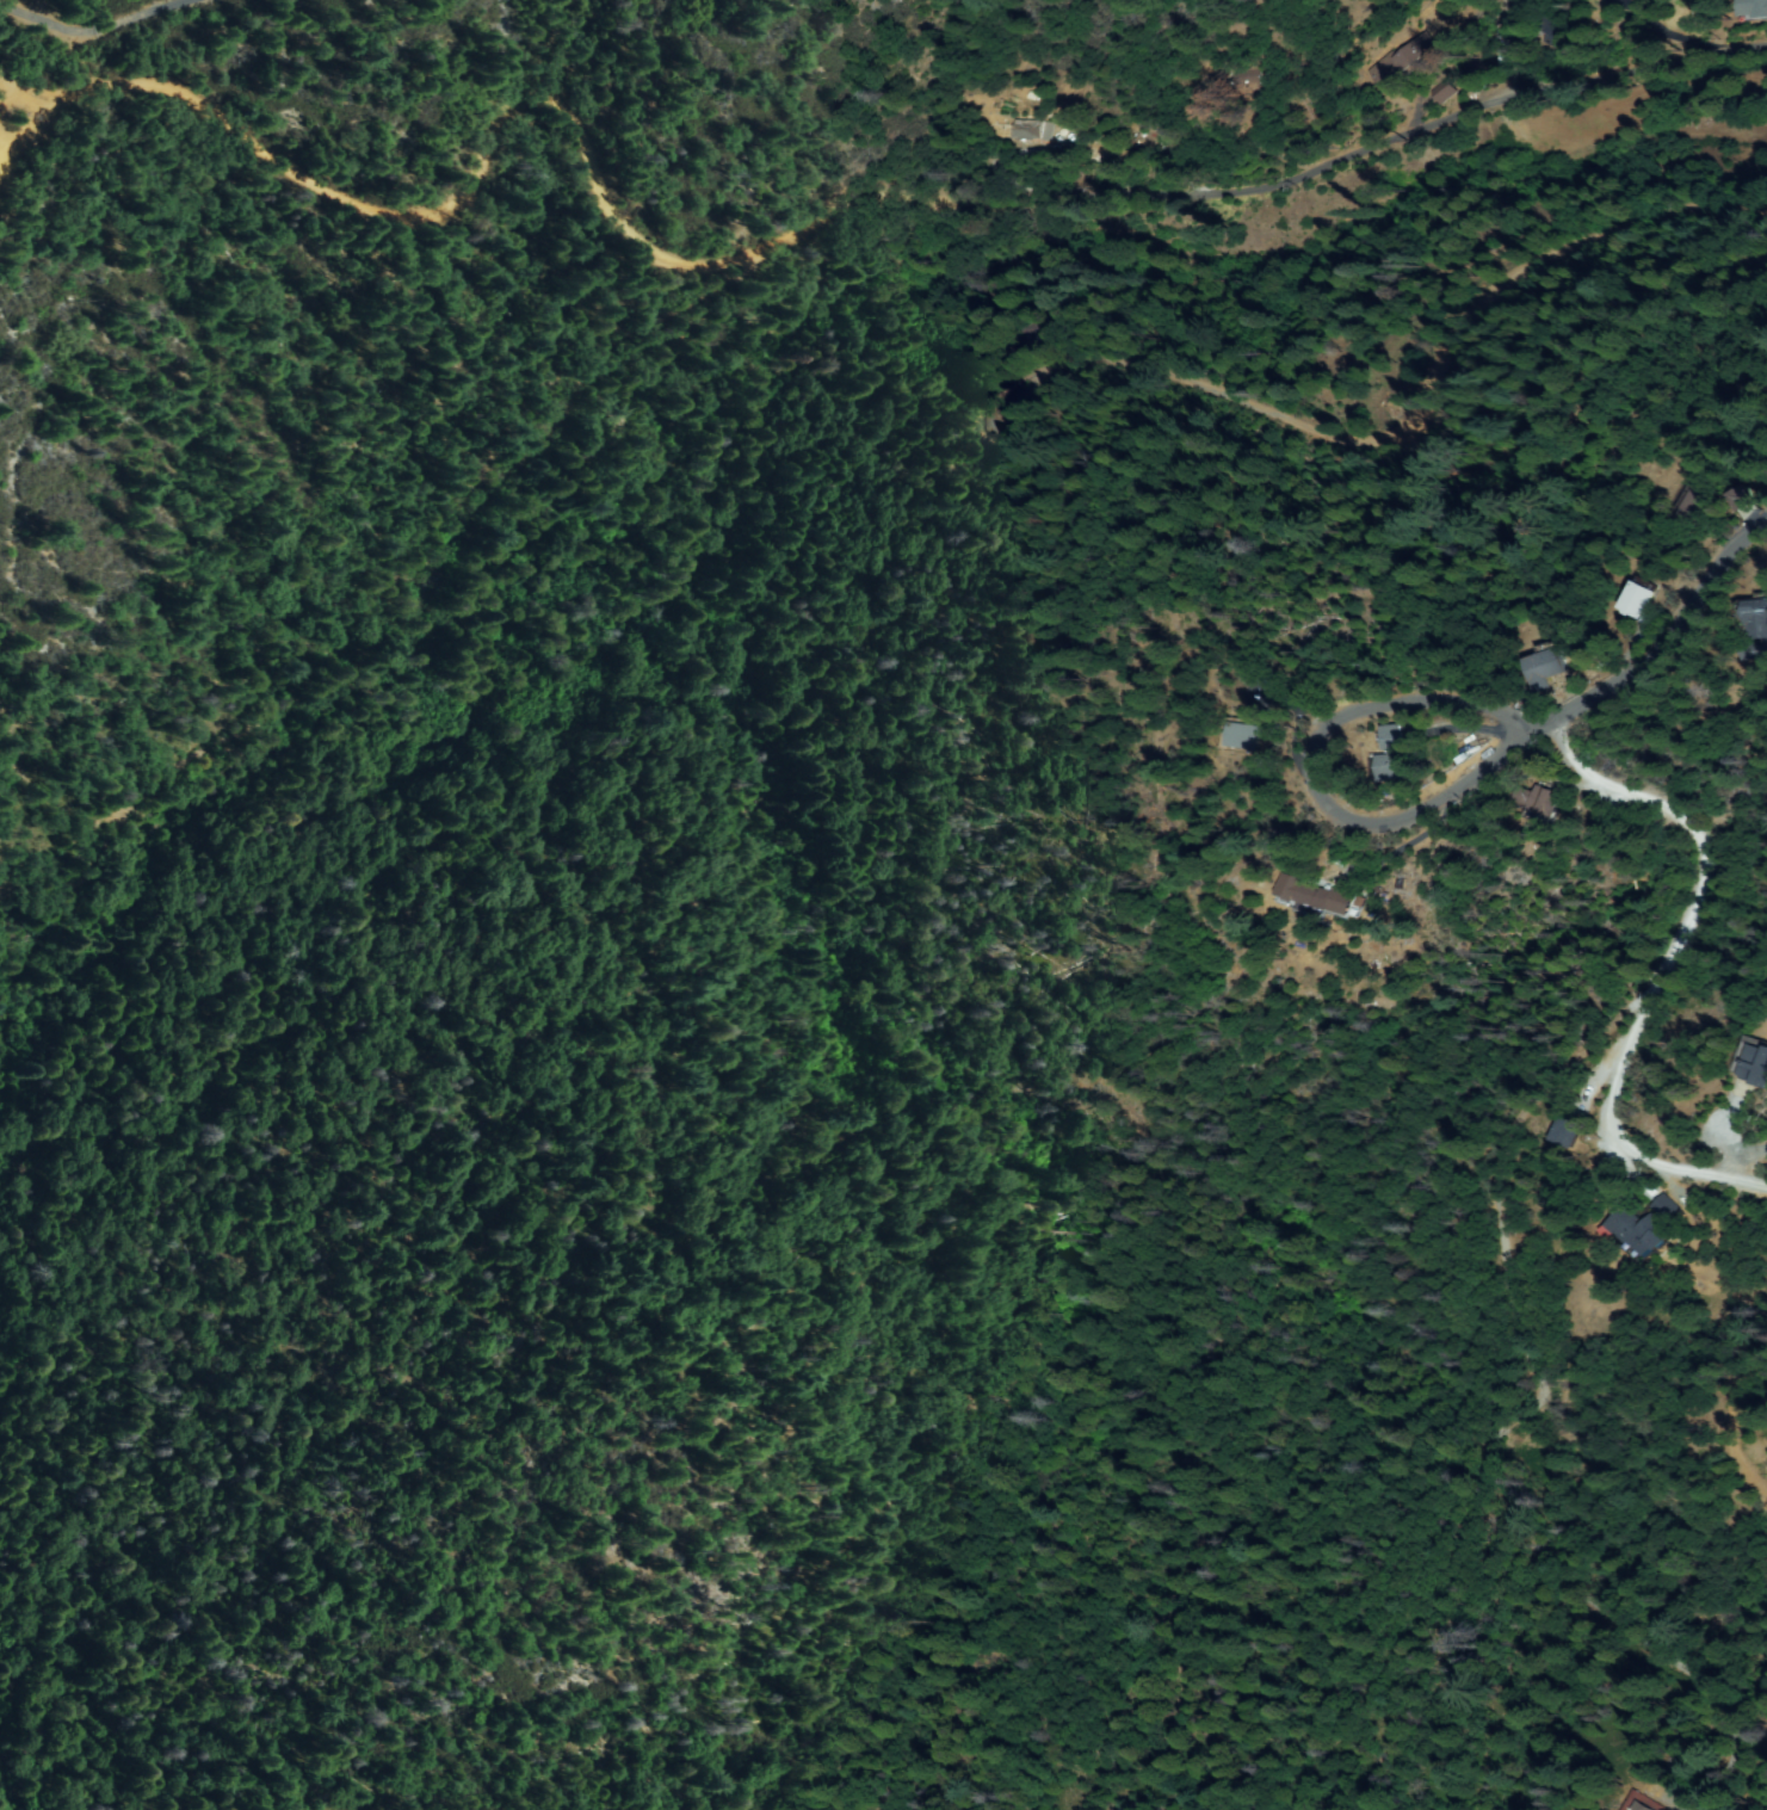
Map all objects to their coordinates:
building: (1650, 0)
building: (1753, 10)
building: (1516, 13)
building: (1553, 32)
building: (1403, 62)
building: (1252, 81)
building: (1446, 92)
building: (1032, 131)
road: (789, 252)
building: (1036, 338)
building: (1741, 500)
building: (1692, 507)
building: (1636, 599)
building: (1759, 618)
road: (1679, 623)
building: (1756, 651)
building: (1544, 668)
road: (1555, 721)
building: (1242, 736)
building: (1394, 739)
building: (1395, 768)
road: (1314, 776)
building: (1538, 802)
building: (1312, 898)
road: (1656, 978)
building: (1755, 1065)
building: (1564, 1133)
building: (1664, 1209)
building: (1639, 1233)
building: (1639, 1808)

